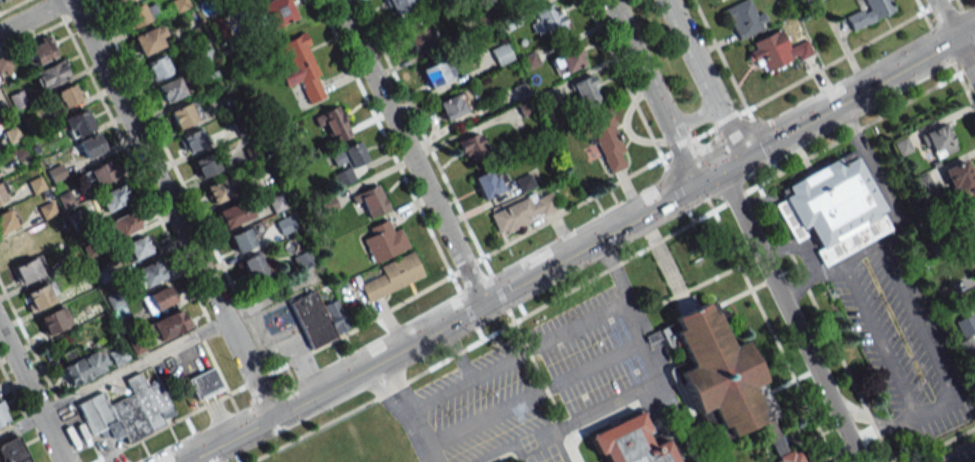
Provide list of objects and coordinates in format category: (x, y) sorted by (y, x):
building: (0, 0)
building: (117, 0)
building: (399, 7)
building: (277, 12)
building: (869, 12)
building: (141, 13)
road: (32, 16)
building: (744, 18)
building: (549, 21)
building: (417, 36)
building: (150, 39)
road: (954, 42)
building: (41, 49)
building: (776, 52)
building: (501, 53)
road: (844, 55)
building: (567, 61)
building: (4, 64)
building: (159, 67)
building: (301, 68)
building: (437, 72)
building: (51, 74)
road: (710, 82)
building: (171, 89)
building: (586, 92)
road: (655, 92)
building: (68, 95)
road: (846, 98)
building: (452, 106)
building: (184, 114)
building: (78, 123)
building: (334, 123)
building: (192, 141)
building: (605, 141)
building: (937, 141)
building: (90, 146)
building: (901, 146)
building: (471, 147)
road: (408, 151)
building: (349, 155)
building: (205, 165)
traffic signals: (718, 170)
building: (101, 173)
road: (873, 175)
building: (957, 176)
building: (524, 182)
building: (487, 183)
building: (922, 185)
building: (220, 189)
building: (1, 196)
building: (113, 198)
building: (371, 201)
building: (835, 206)
road: (171, 207)
building: (524, 211)
building: (234, 213)
building: (968, 216)
building: (6, 220)
building: (123, 224)
road: (599, 236)
building: (242, 240)
building: (383, 241)
building: (17, 245)
building: (137, 247)
building: (974, 251)
road: (859, 252)
building: (303, 259)
road: (807, 259)
building: (254, 268)
building: (29, 269)
road: (825, 270)
building: (148, 273)
building: (393, 276)
building: (37, 298)
building: (157, 299)
traffic signals: (481, 303)
road: (790, 315)
building: (311, 319)
road: (916, 319)
building: (49, 322)
building: (168, 325)
building: (966, 332)
road: (878, 338)
road: (455, 351)
road: (157, 353)
building: (117, 355)
road: (514, 356)
road: (649, 362)
building: (84, 367)
building: (717, 373)
building: (204, 383)
road: (330, 383)
road: (391, 384)
parking lot: (539, 387)
road: (32, 394)
road: (532, 394)
road: (934, 406)
building: (128, 411)
building: (3, 414)
road: (860, 414)
road: (901, 420)
road: (869, 434)
road: (419, 435)
building: (628, 442)
building: (779, 444)
road: (557, 448)
building: (12, 451)
road: (955, 452)
road: (182, 461)

